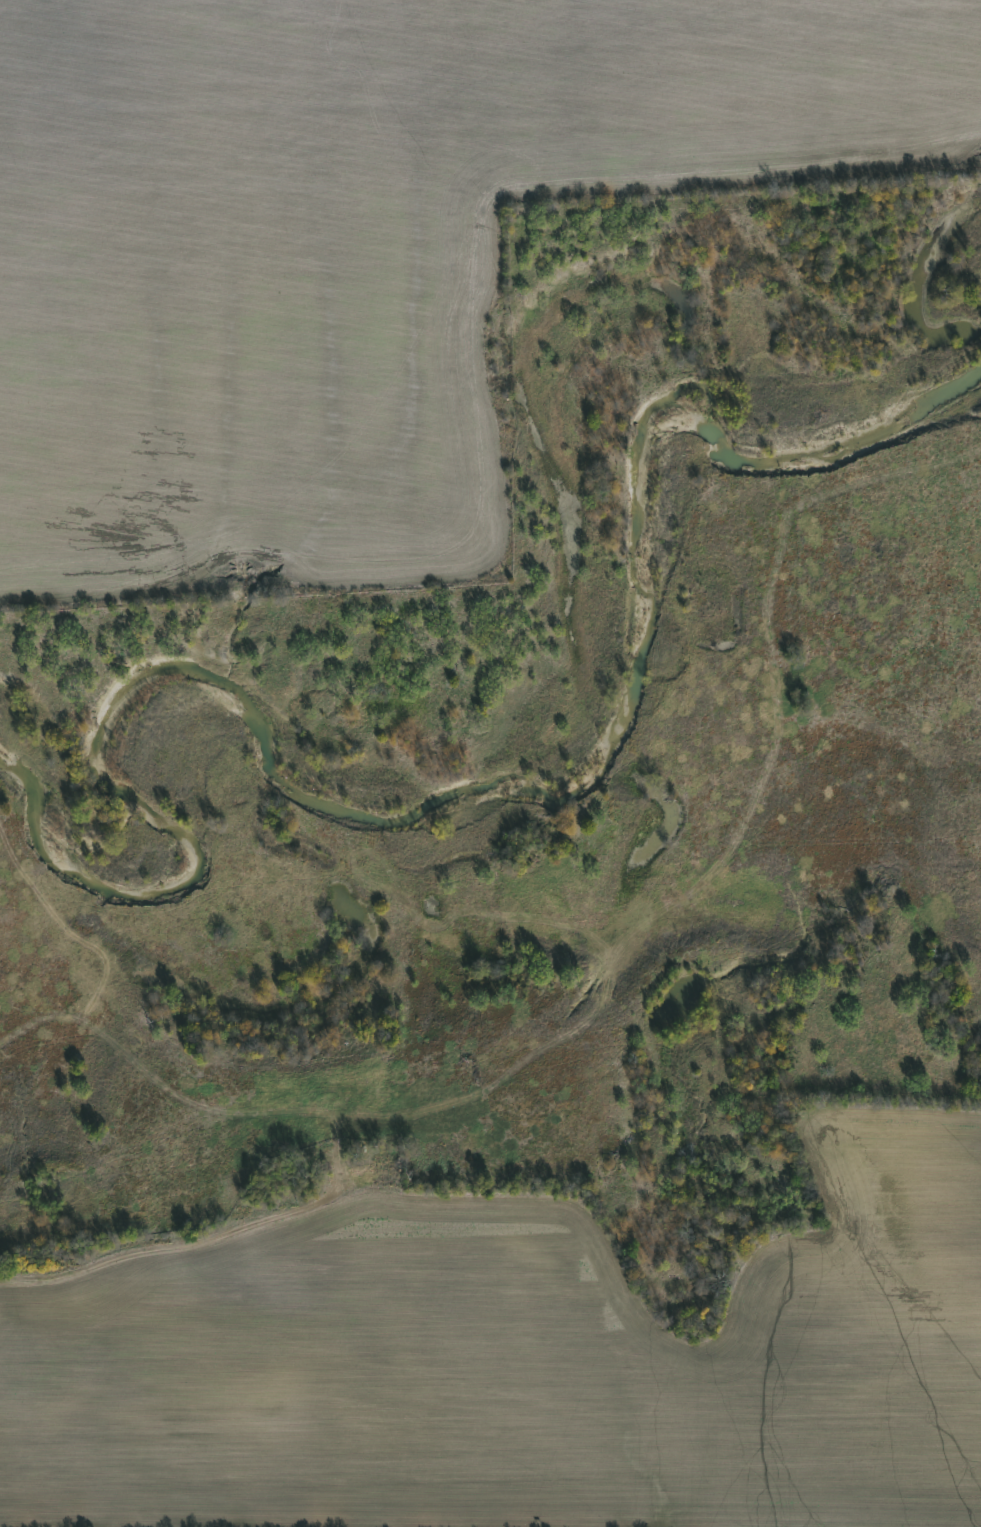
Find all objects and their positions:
building: (444, 1153)
building: (508, 1162)

